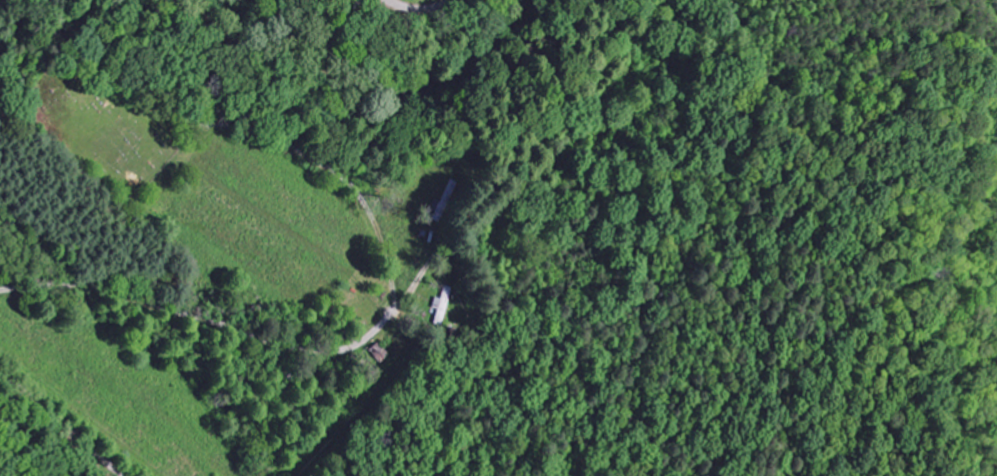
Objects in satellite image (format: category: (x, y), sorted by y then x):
road: (419, 10)
park: (104, 126)
road: (390, 313)
road: (65, 421)

